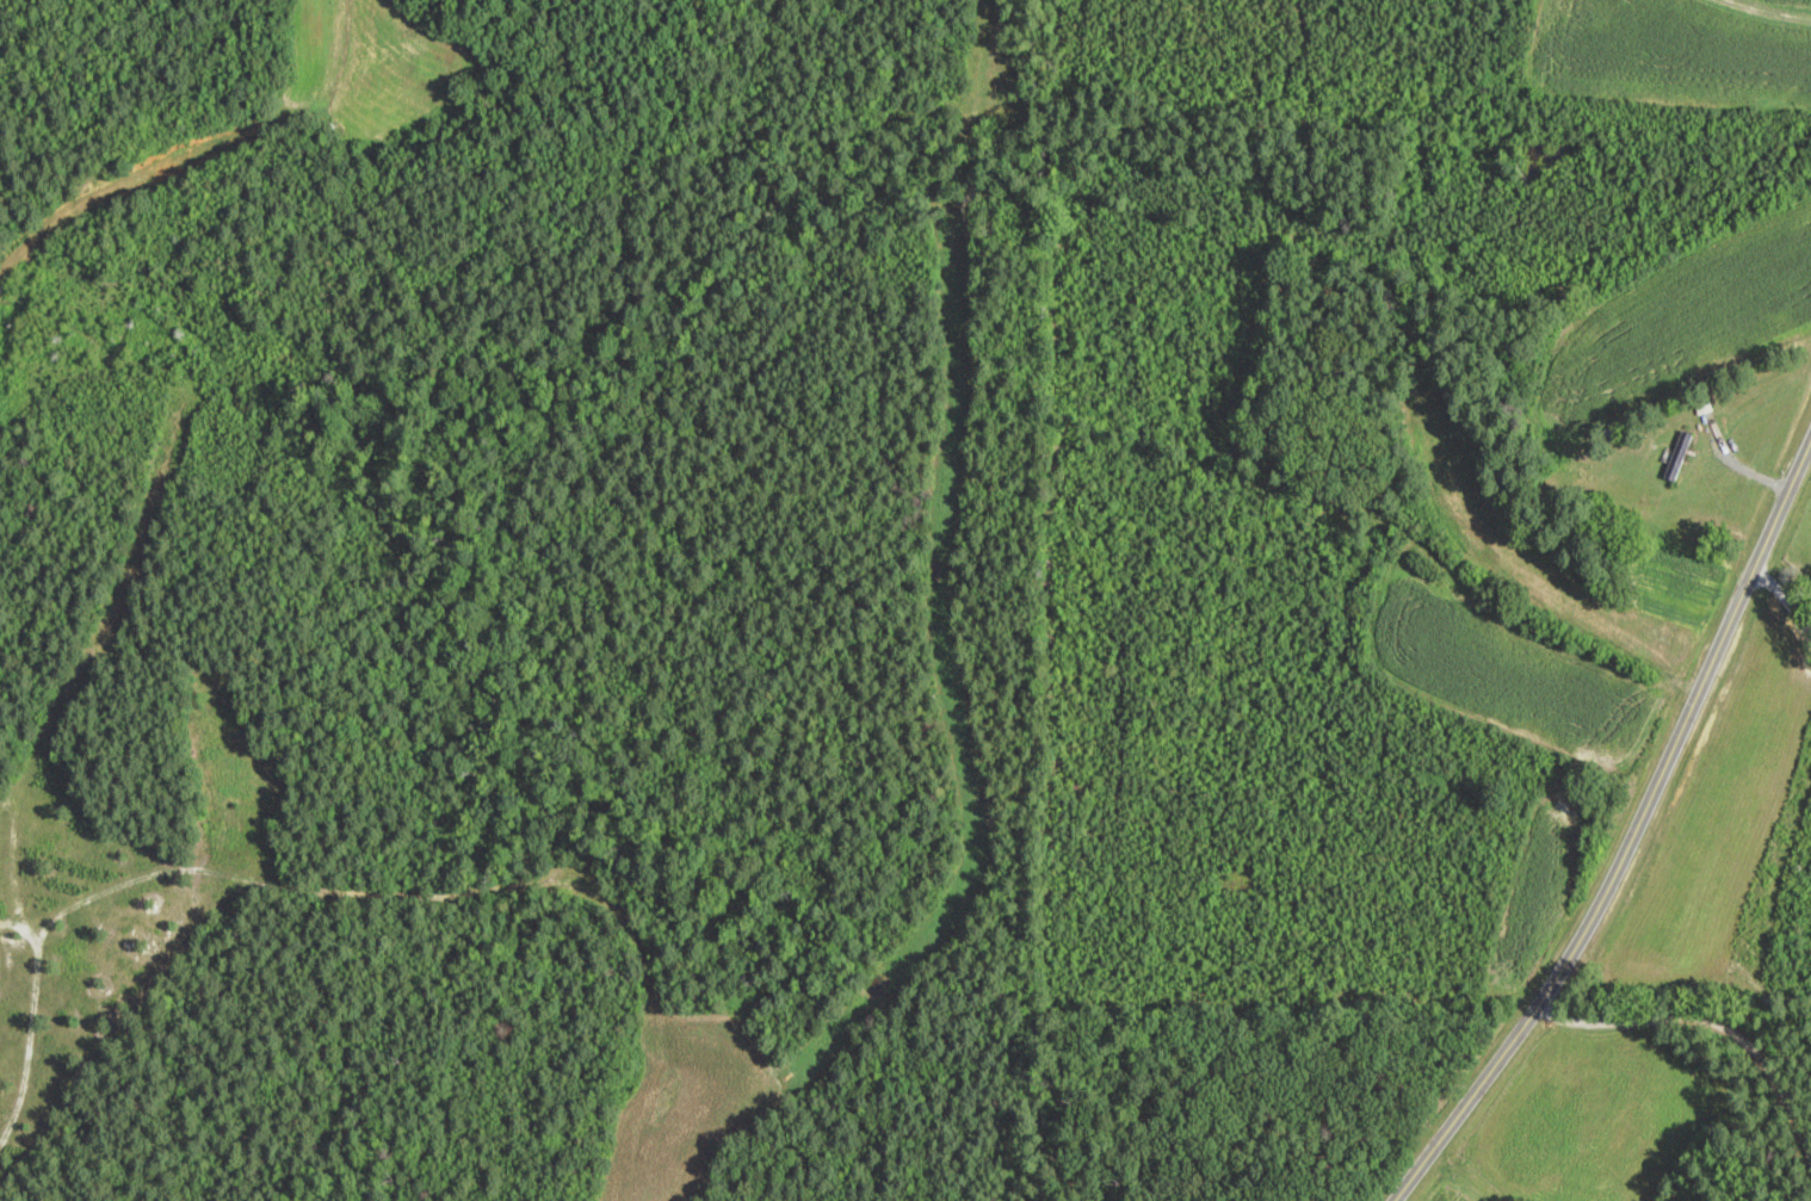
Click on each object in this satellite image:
building: (1679, 456)
road: (1784, 598)
crop: (1719, 821)
road: (1634, 834)

